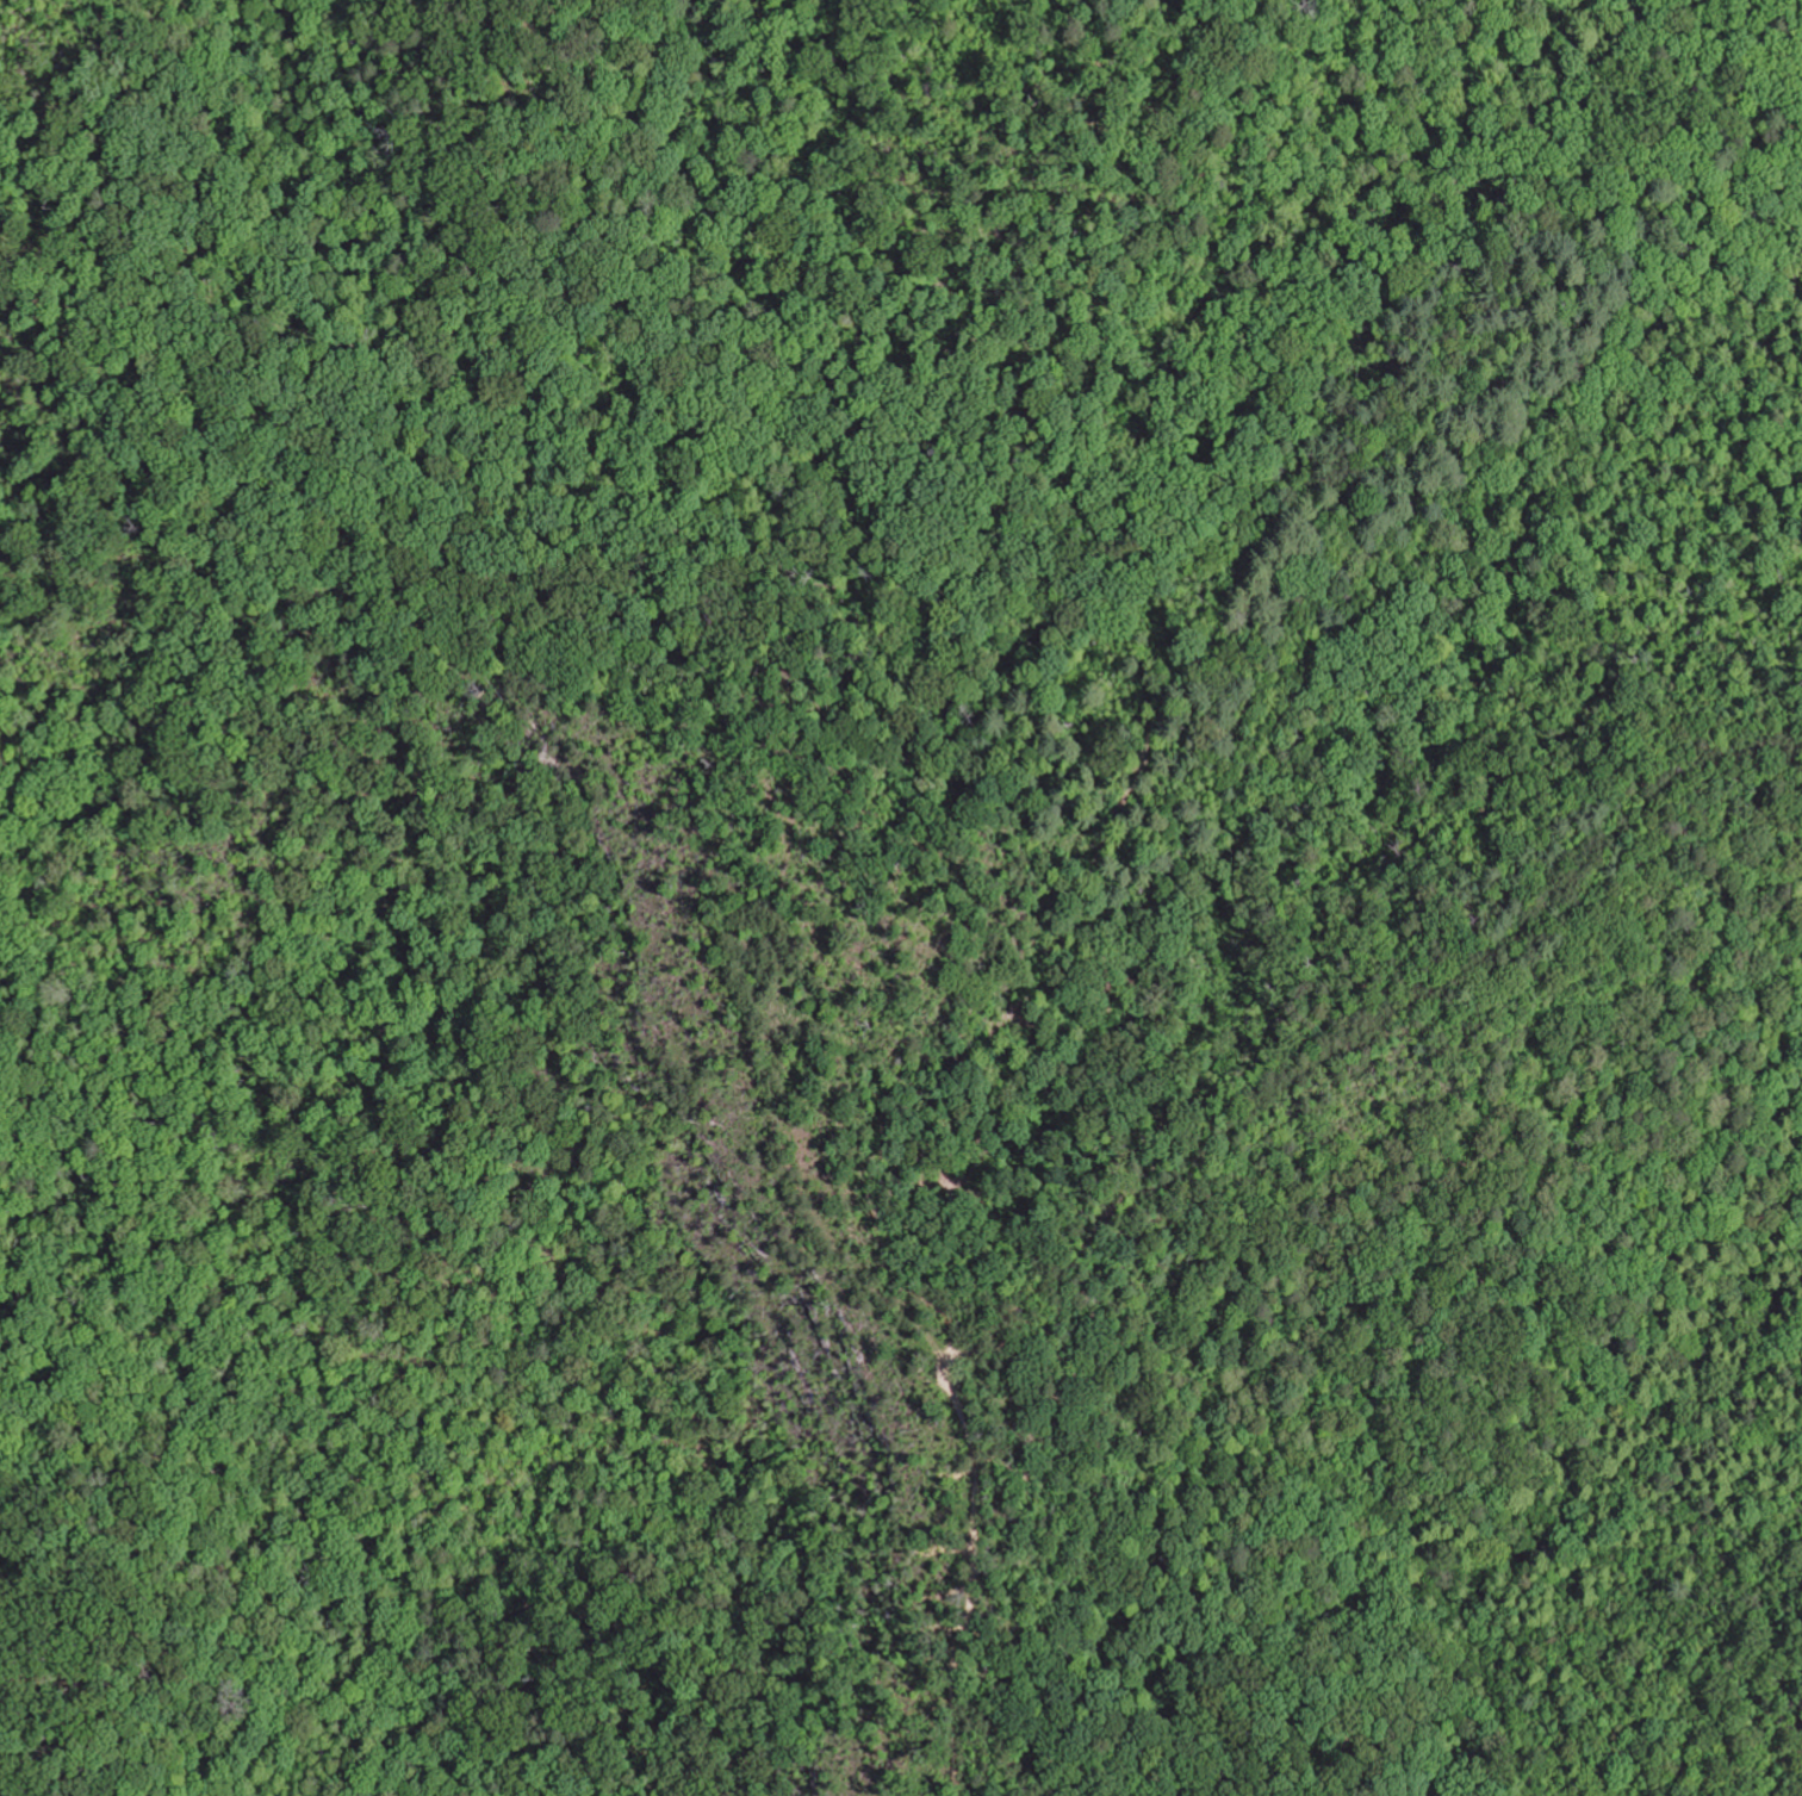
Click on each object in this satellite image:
road: (975, 1578)

